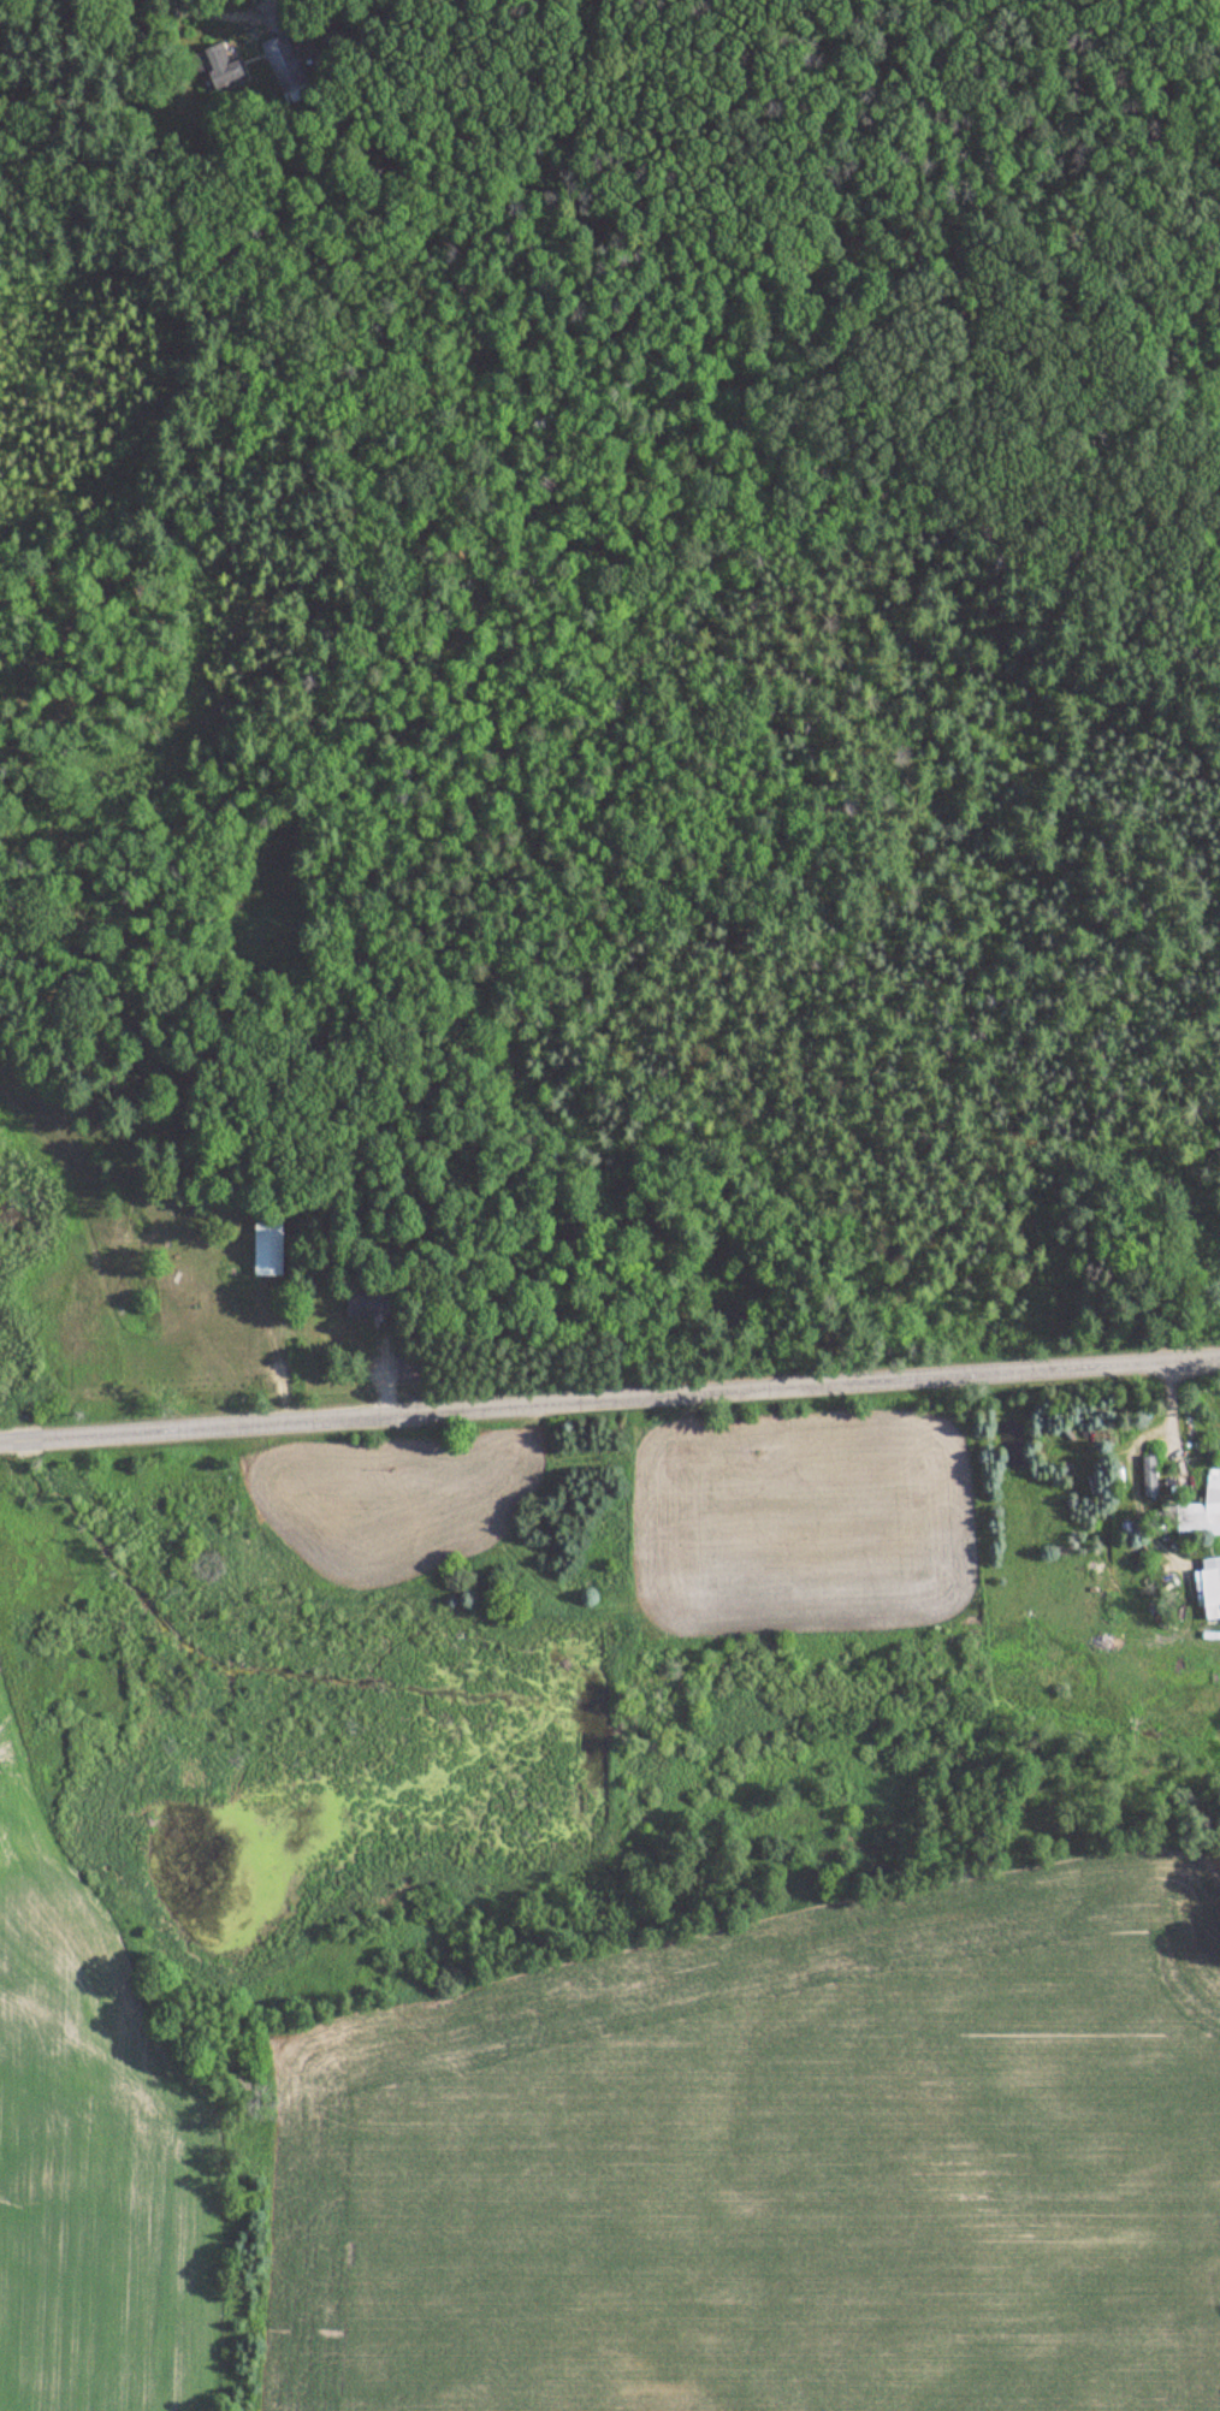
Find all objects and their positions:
road: (276, 8)
road: (237, 13)
building: (221, 66)
building: (286, 67)
building: (272, 1249)
building: (371, 1304)
building: (409, 1366)
road: (610, 1400)
building: (1151, 1475)
road: (1135, 1479)
building: (1200, 1511)
building: (1213, 1586)

